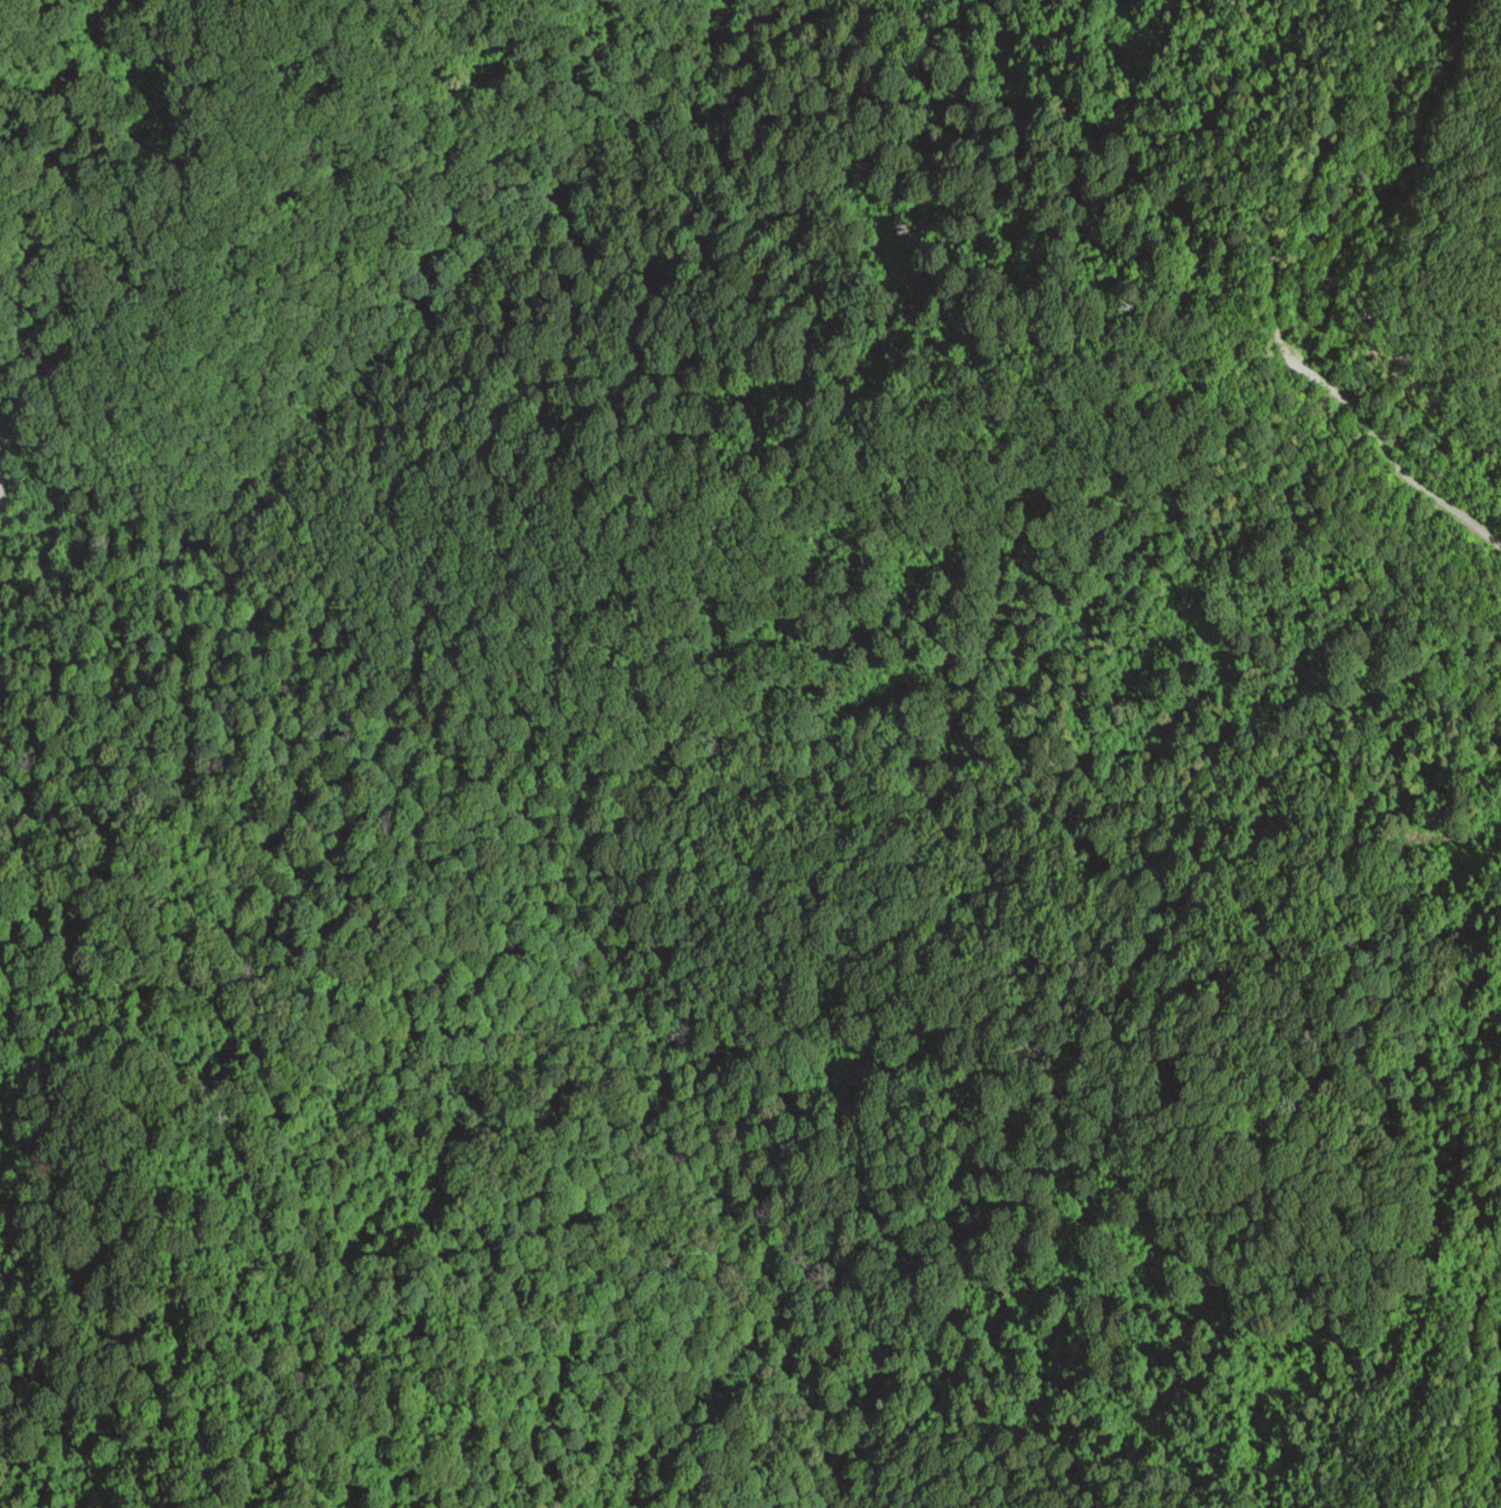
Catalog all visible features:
road: (1331, 266)
road: (1453, 1395)

